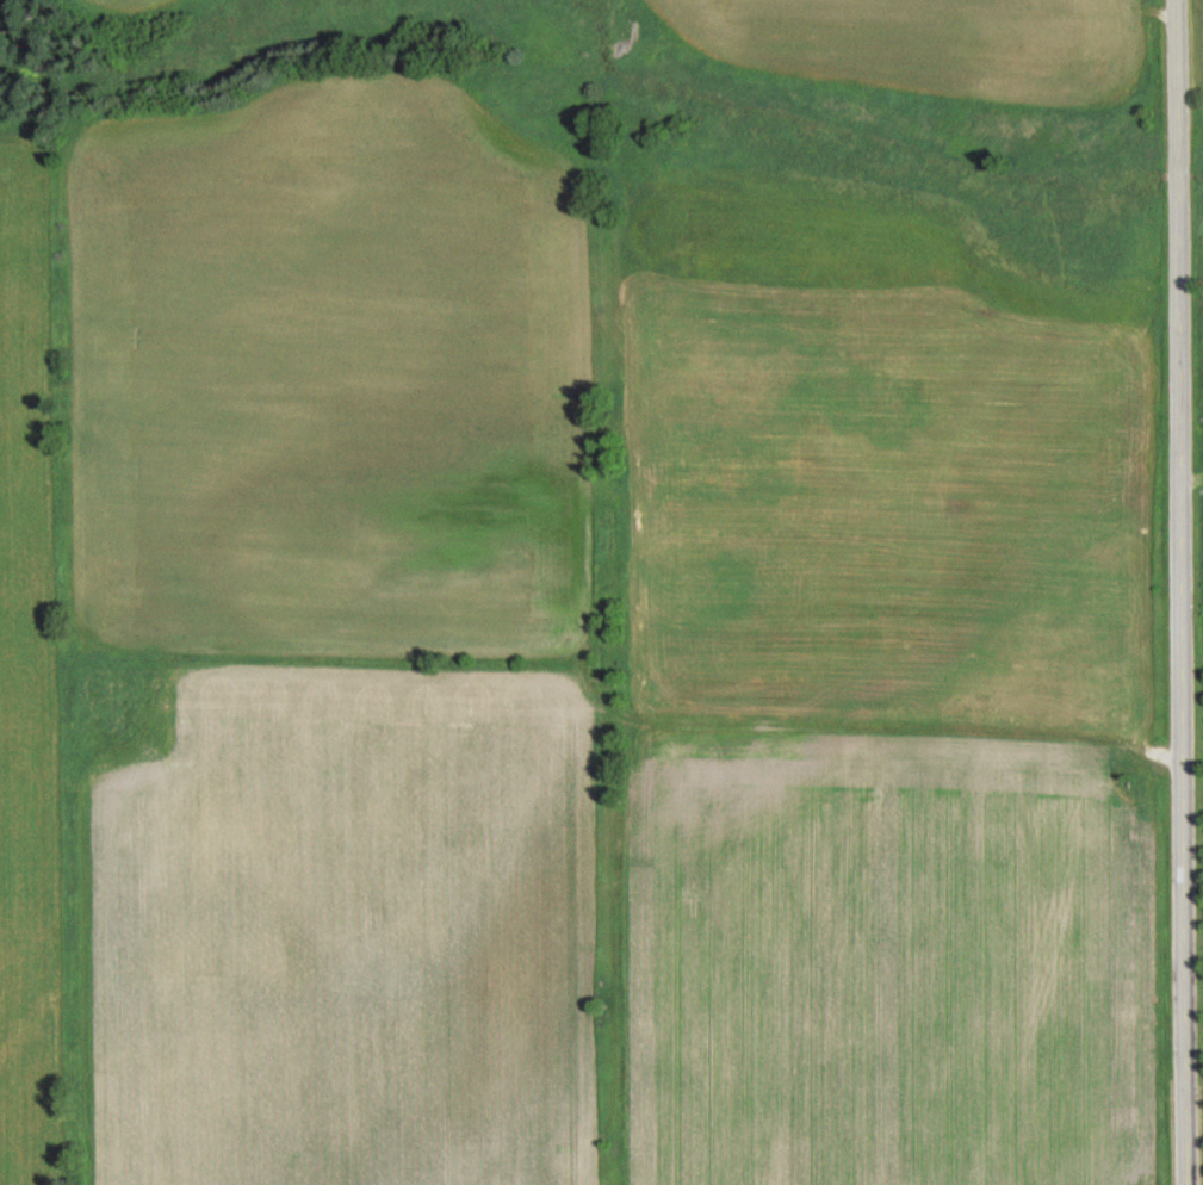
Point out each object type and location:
road: (1186, 591)

